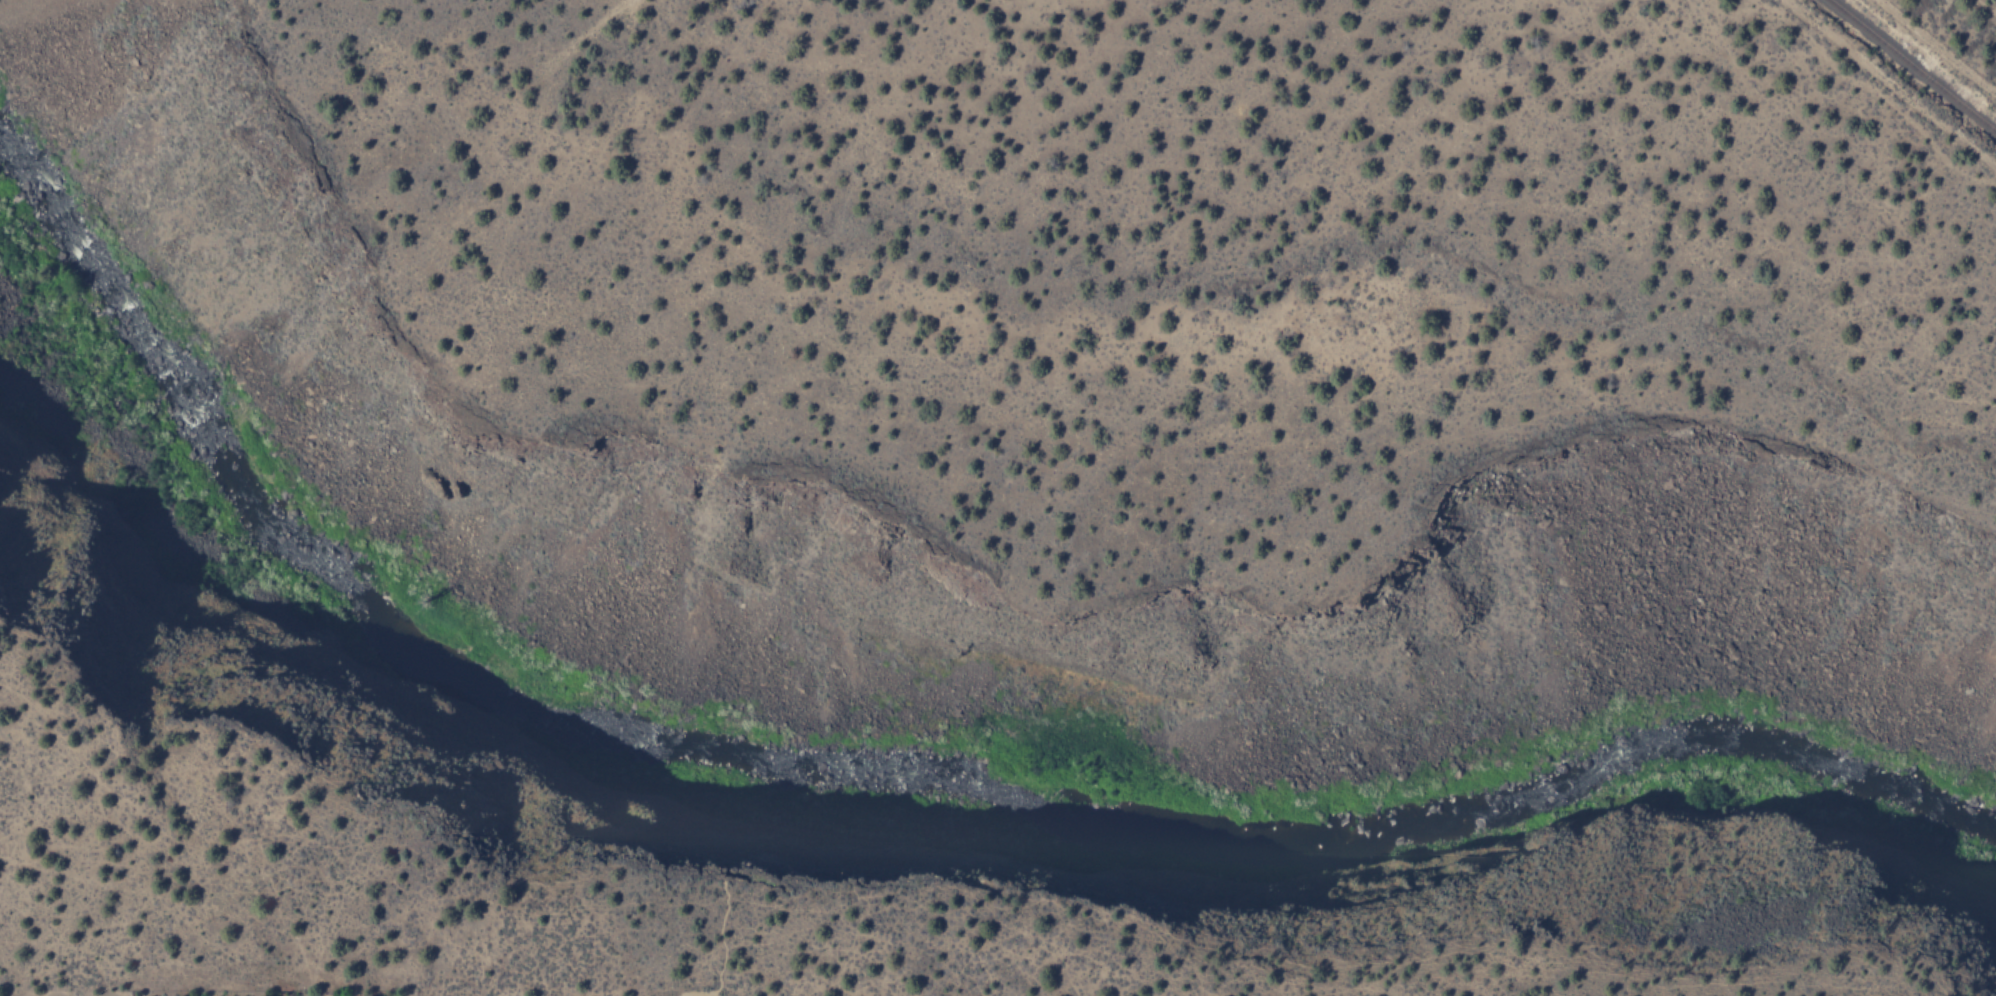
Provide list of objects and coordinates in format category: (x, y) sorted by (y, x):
road: (1985, 9)
railway: (1910, 71)
river: (897, 776)

